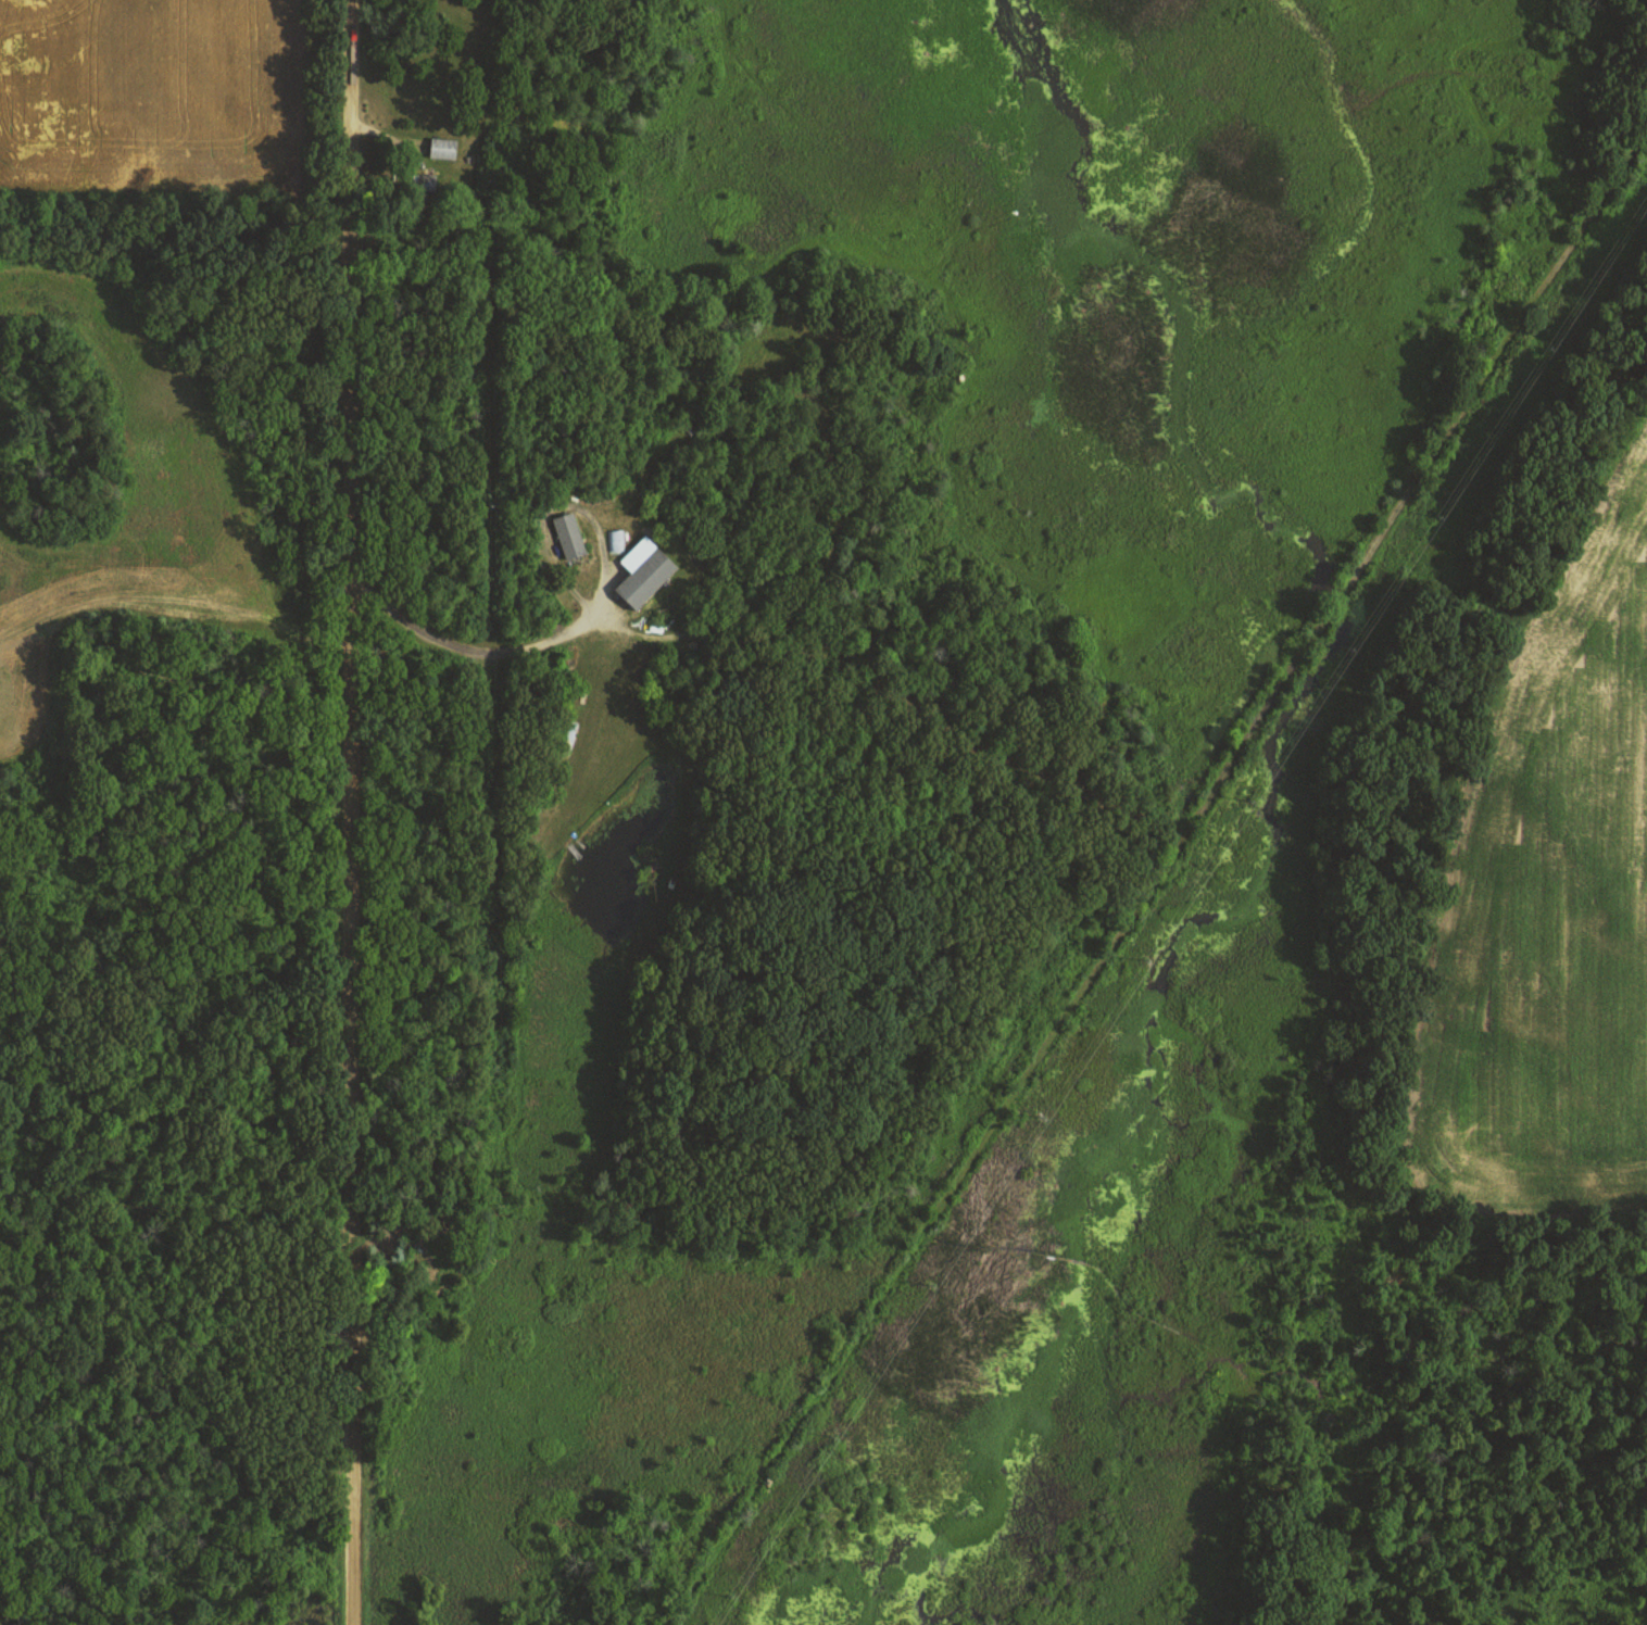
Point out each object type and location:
building: (442, 147)
building: (569, 534)
building: (616, 539)
building: (643, 570)
road: (352, 812)

